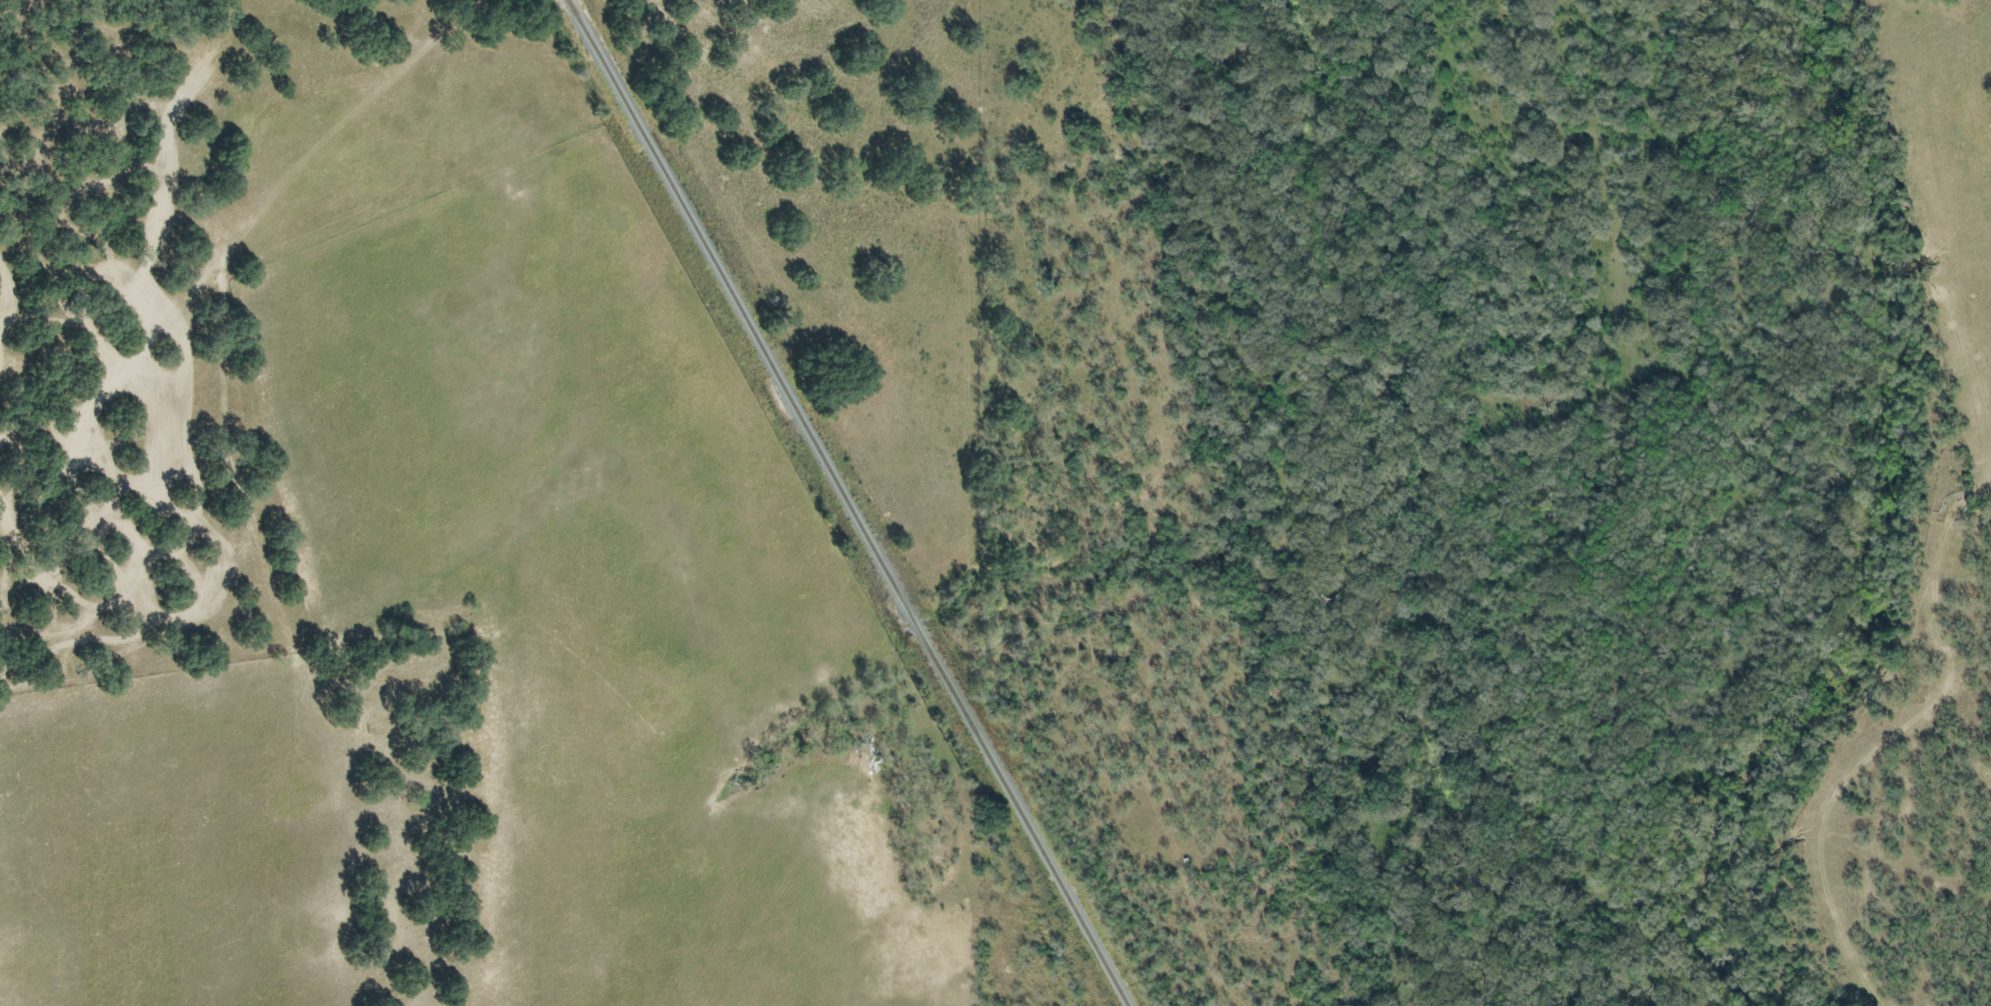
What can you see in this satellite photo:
road: (240, 281)
railway: (842, 503)
river: (1882, 535)

